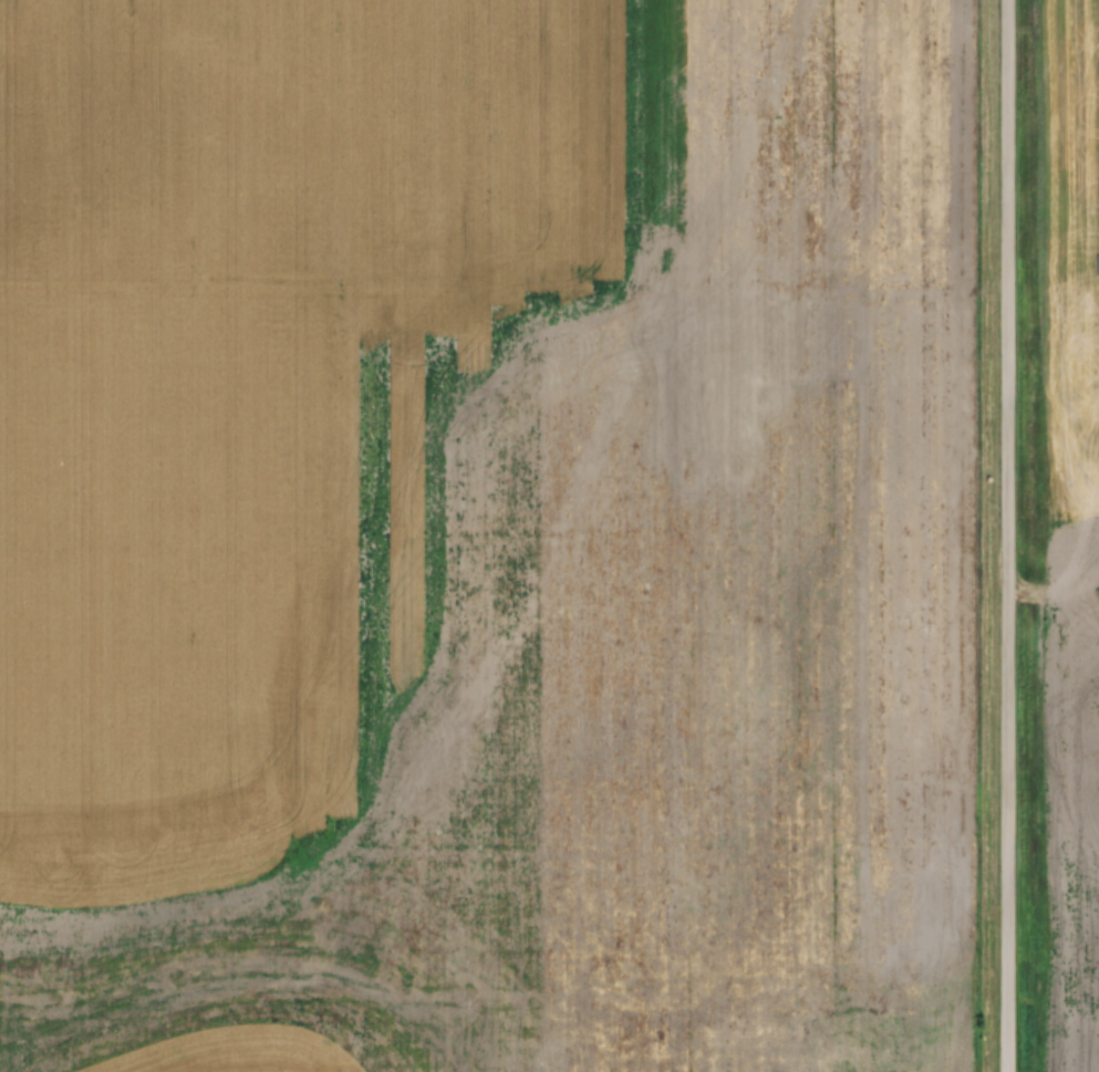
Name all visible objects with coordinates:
road: (1010, 535)

